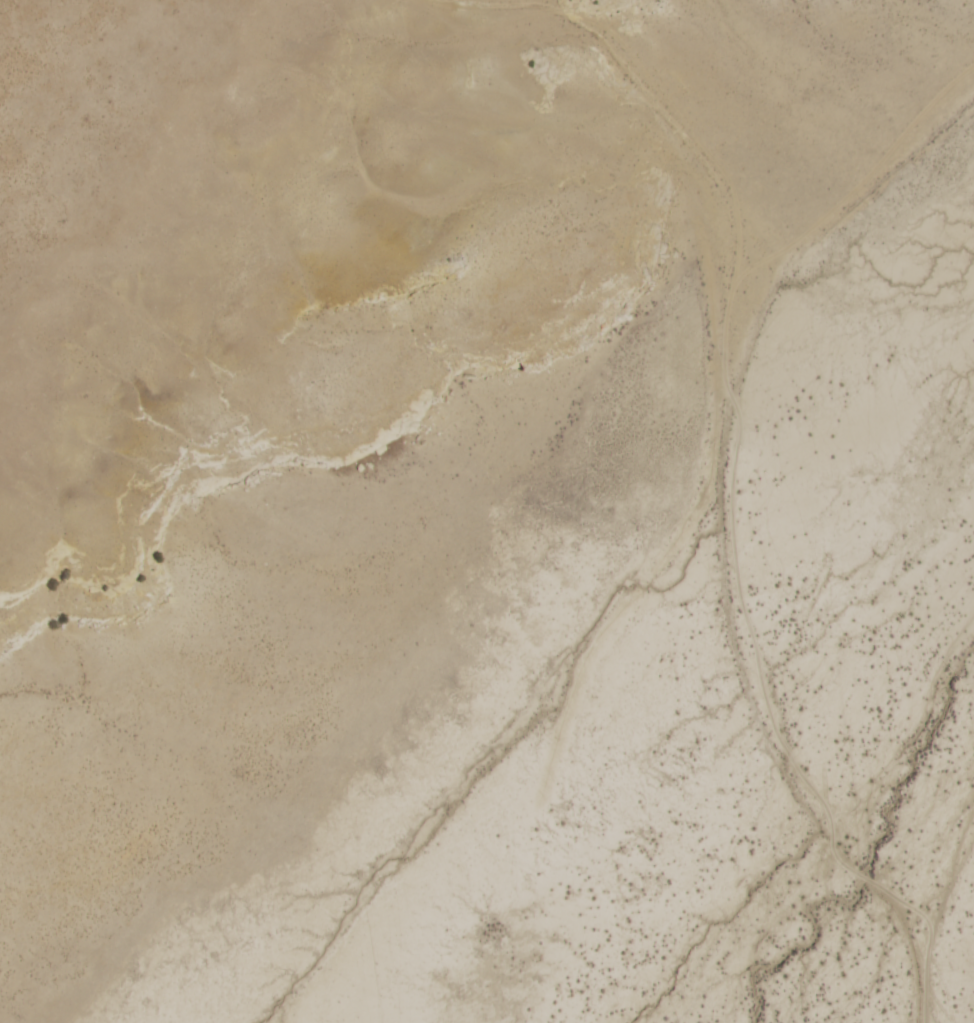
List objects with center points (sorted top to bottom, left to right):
road: (758, 556)
river: (864, 834)

